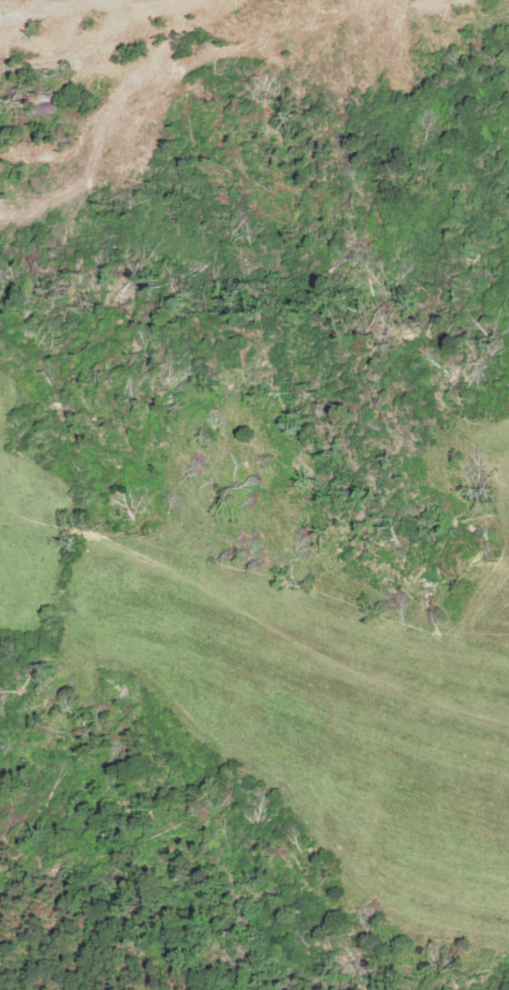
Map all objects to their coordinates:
building: (36, 107)

